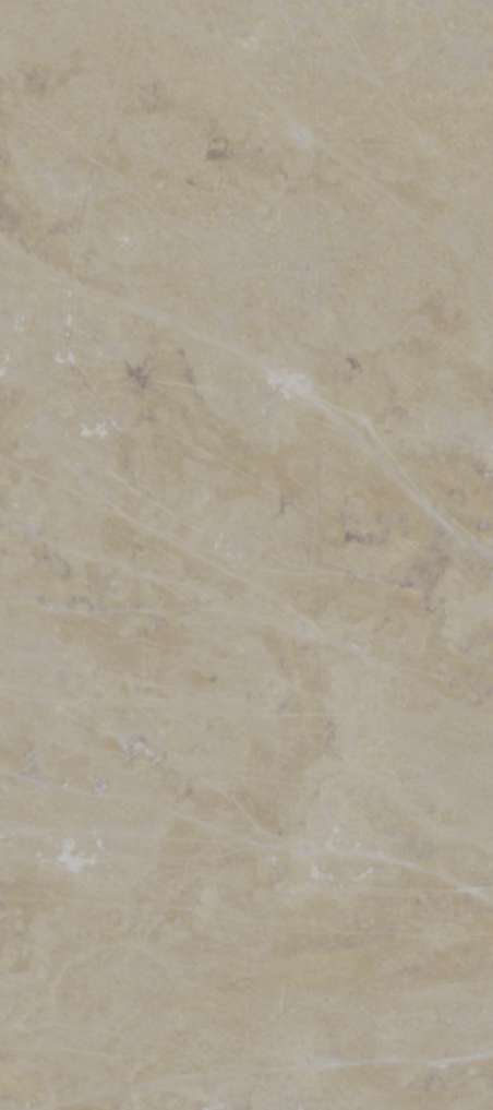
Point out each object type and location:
road: (246, 231)

